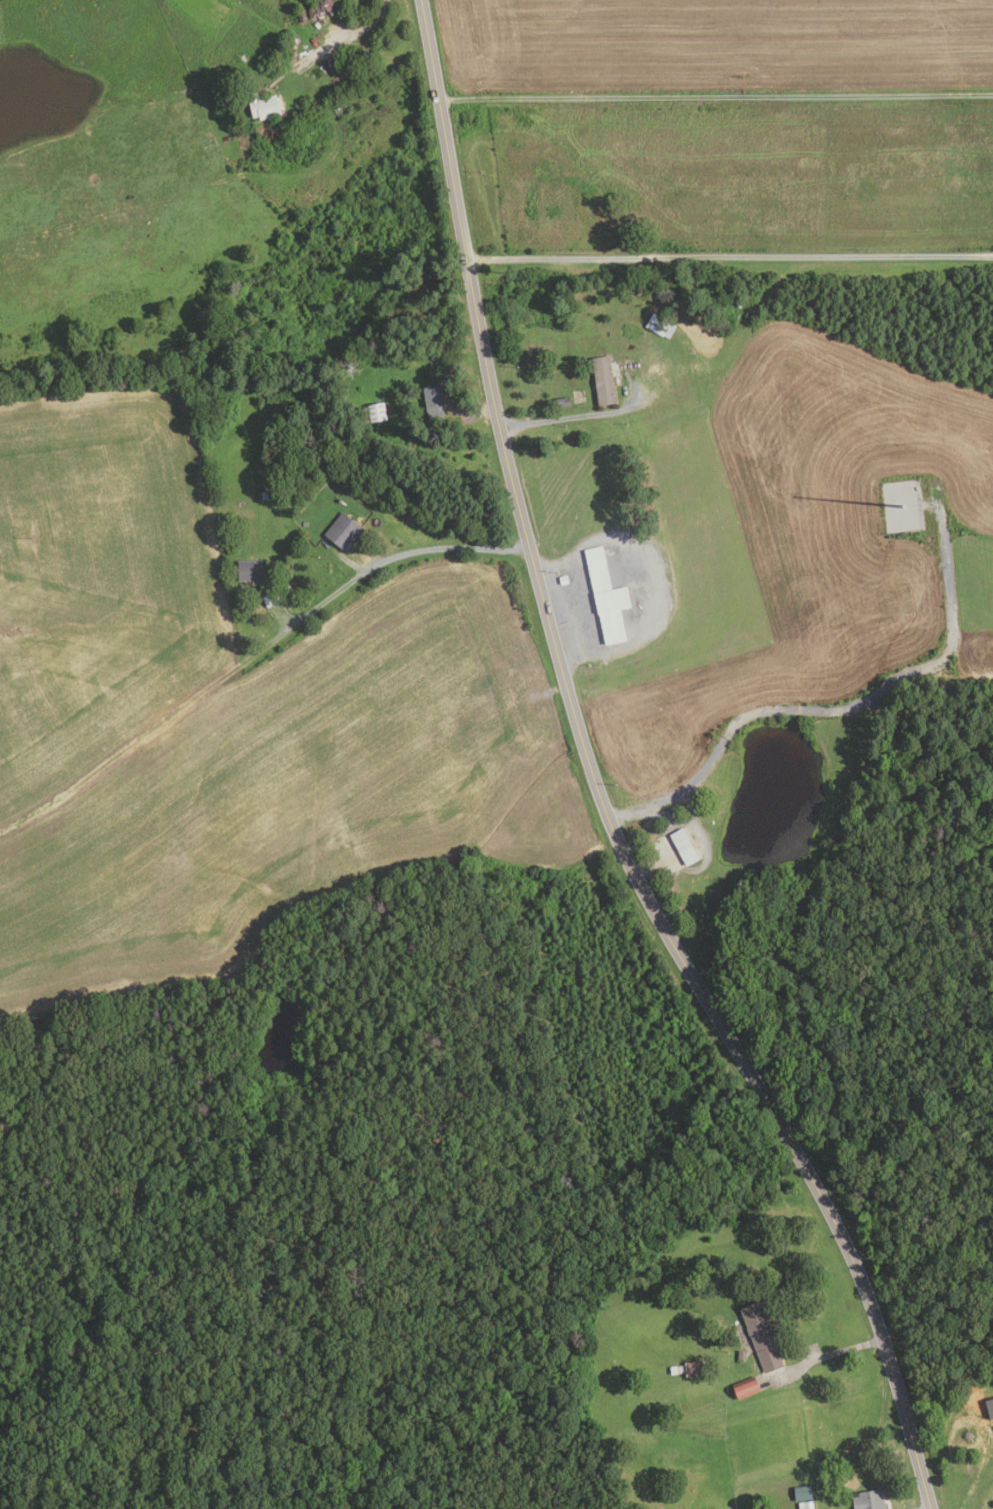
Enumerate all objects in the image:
building: (325, 8)
building: (302, 16)
road: (344, 37)
road: (715, 94)
building: (262, 105)
road: (729, 253)
building: (660, 326)
building: (686, 340)
building: (678, 372)
building: (603, 380)
building: (433, 401)
building: (562, 403)
building: (376, 412)
road: (474, 412)
road: (570, 418)
building: (261, 471)
building: (267, 494)
building: (304, 523)
building: (344, 532)
road: (393, 557)
building: (251, 572)
building: (563, 581)
building: (607, 596)
building: (270, 598)
road: (843, 710)
road: (144, 738)
road: (597, 782)
building: (684, 847)
building: (762, 1336)
building: (742, 1355)
road: (822, 1357)
building: (687, 1370)
building: (745, 1389)
building: (803, 1492)
building: (869, 1500)
building: (806, 1505)

